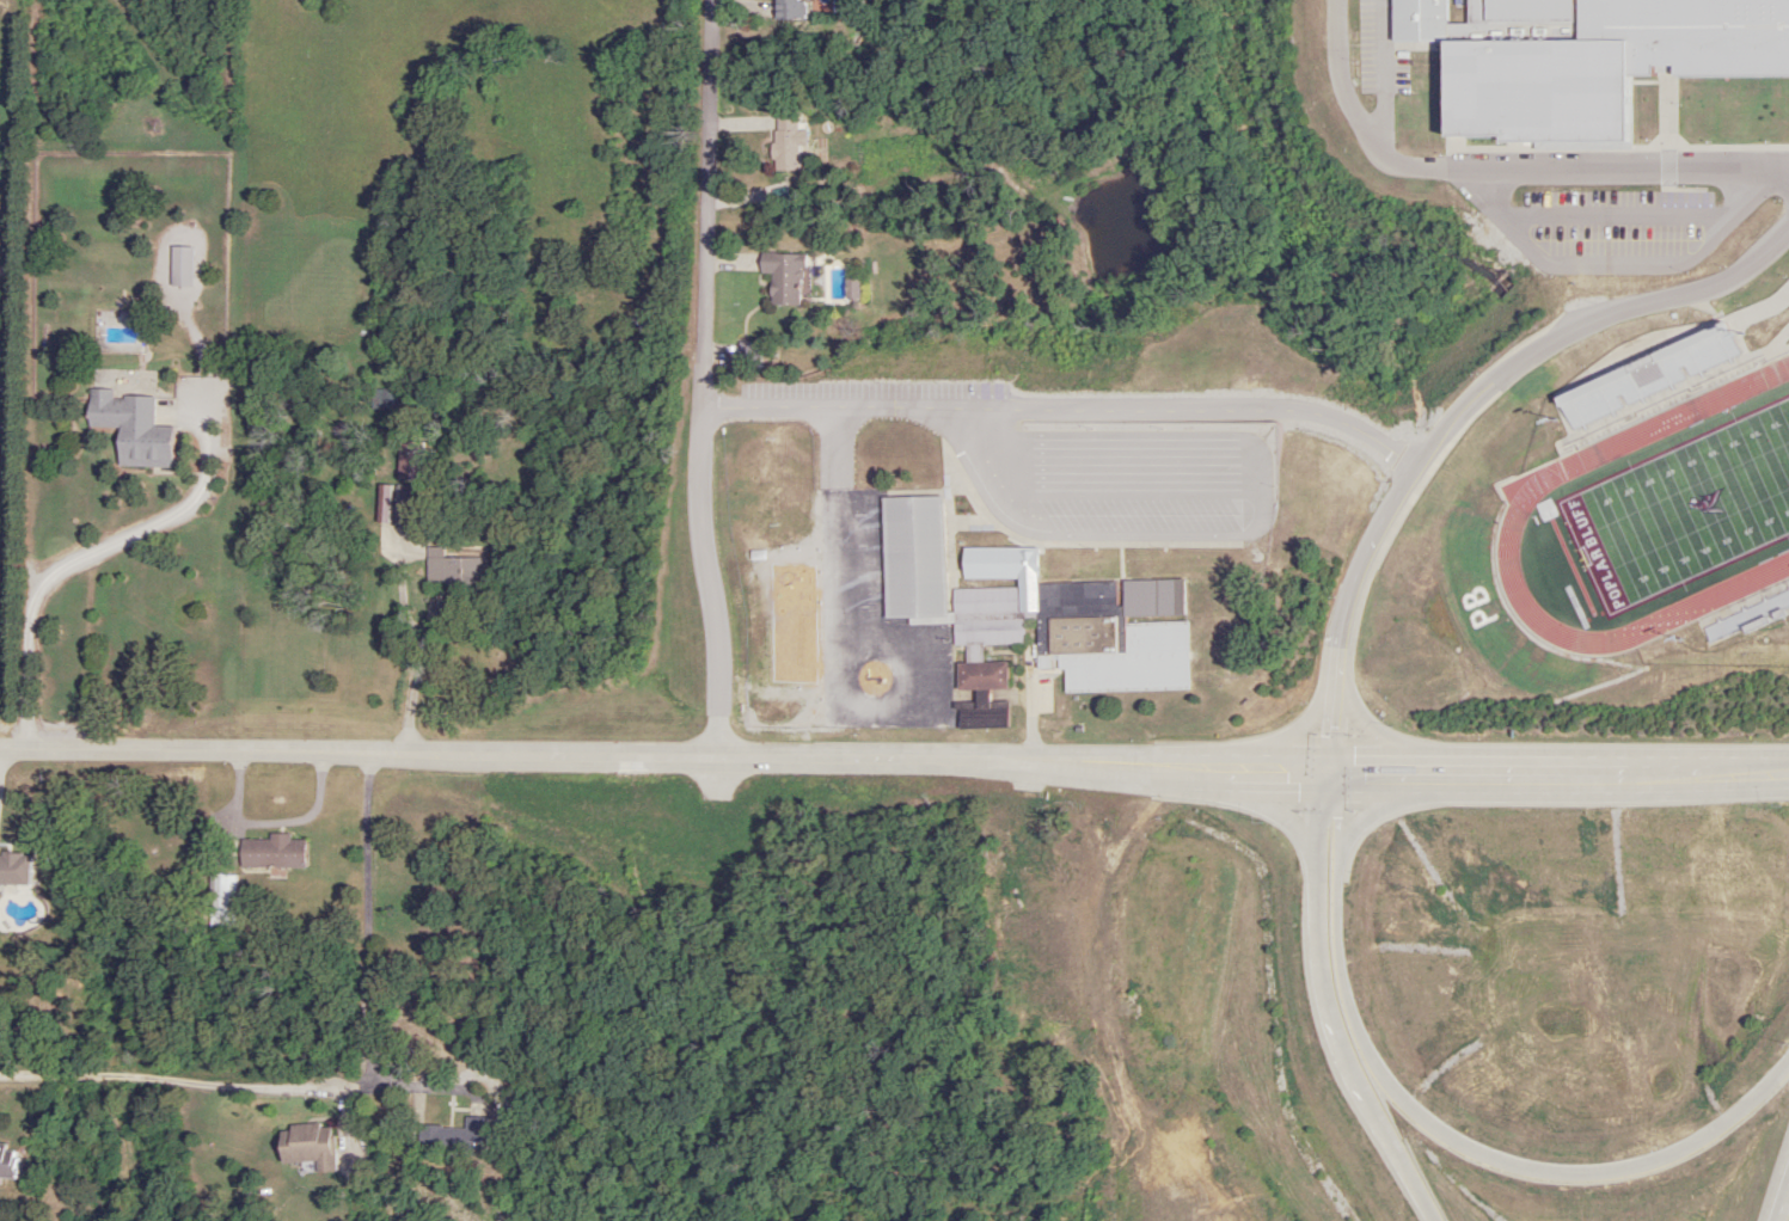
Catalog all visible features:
building: (788, 8)
building: (1549, 10)
building: (785, 141)
road: (1511, 147)
building: (783, 277)
road: (703, 381)
road: (1068, 411)
road: (1464, 417)
building: (130, 428)
building: (409, 460)
building: (404, 504)
park: (1685, 508)
road: (104, 551)
building: (912, 557)
building: (990, 563)
building: (452, 569)
building: (986, 619)
building: (1122, 634)
road: (423, 645)
building: (979, 676)
building: (981, 716)
road: (894, 762)
building: (270, 852)
building: (221, 902)
building: (1384, 952)
road: (1327, 1005)
road: (353, 1091)
road: (1434, 1127)
building: (452, 1137)
building: (306, 1147)
building: (6, 1162)
road: (1783, 1207)

